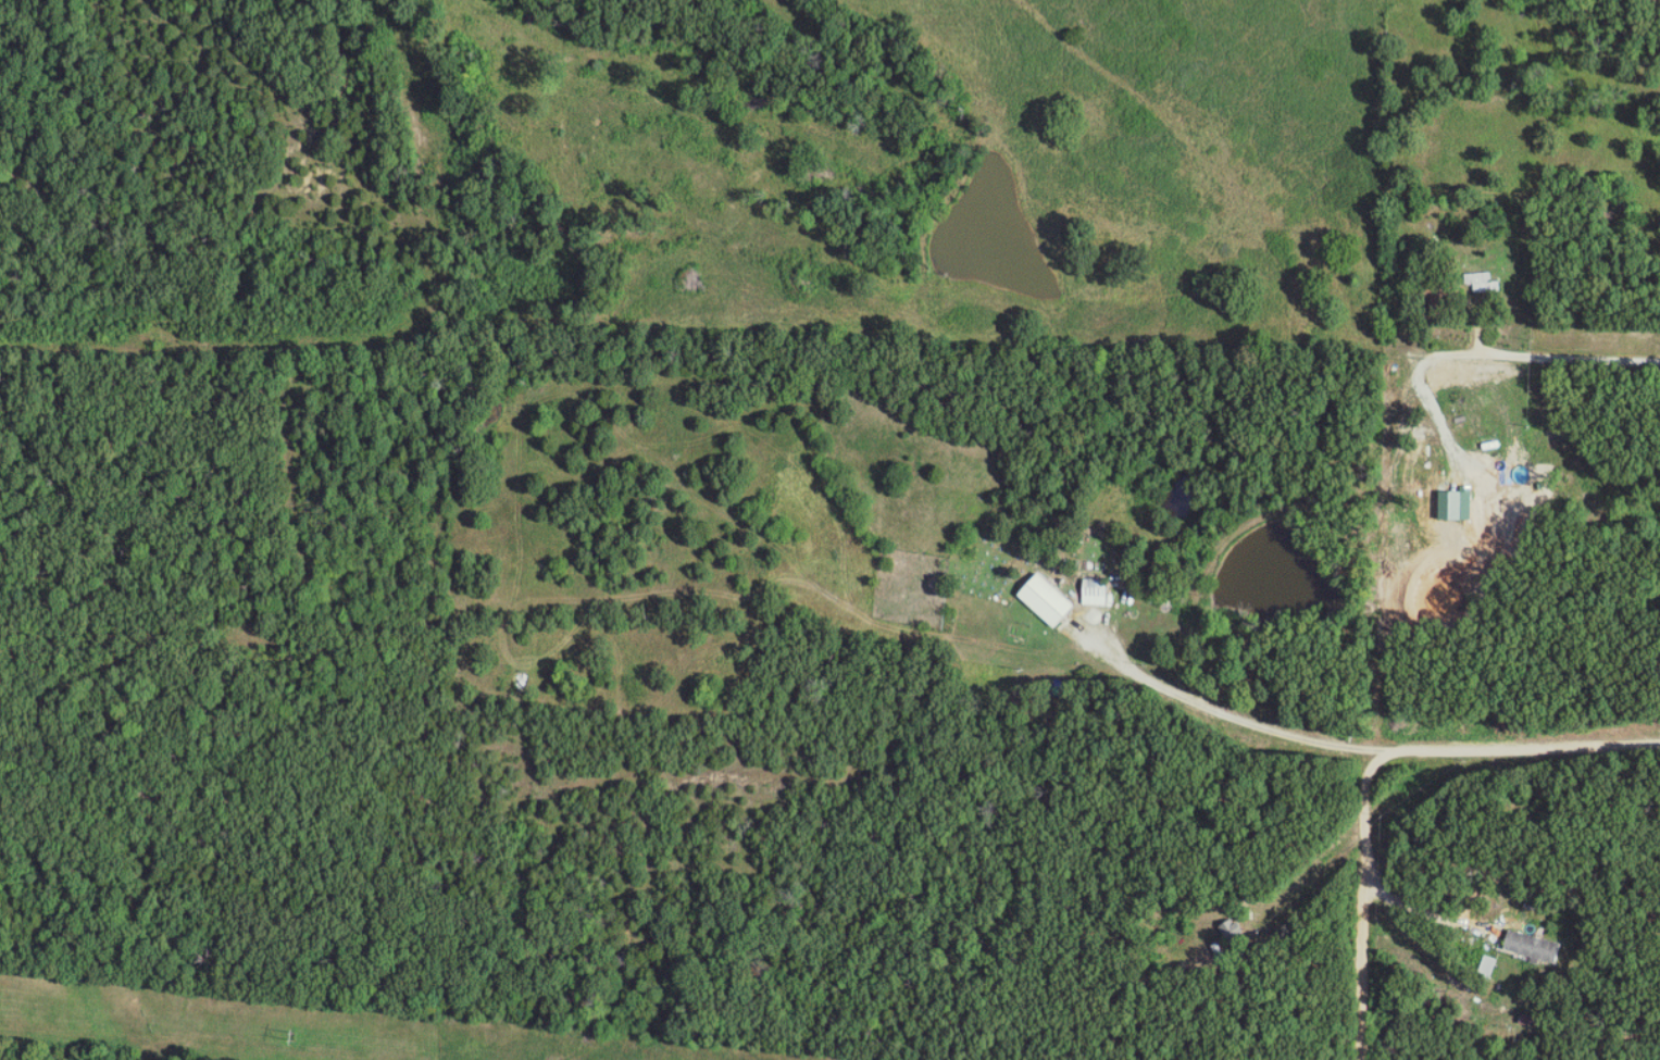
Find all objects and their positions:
road: (1300, 274)
building: (1490, 283)
building: (1458, 504)
building: (1100, 593)
building: (1053, 600)
road: (1358, 746)
road: (1366, 907)
road: (1450, 911)
building: (1239, 932)
building: (1536, 946)

